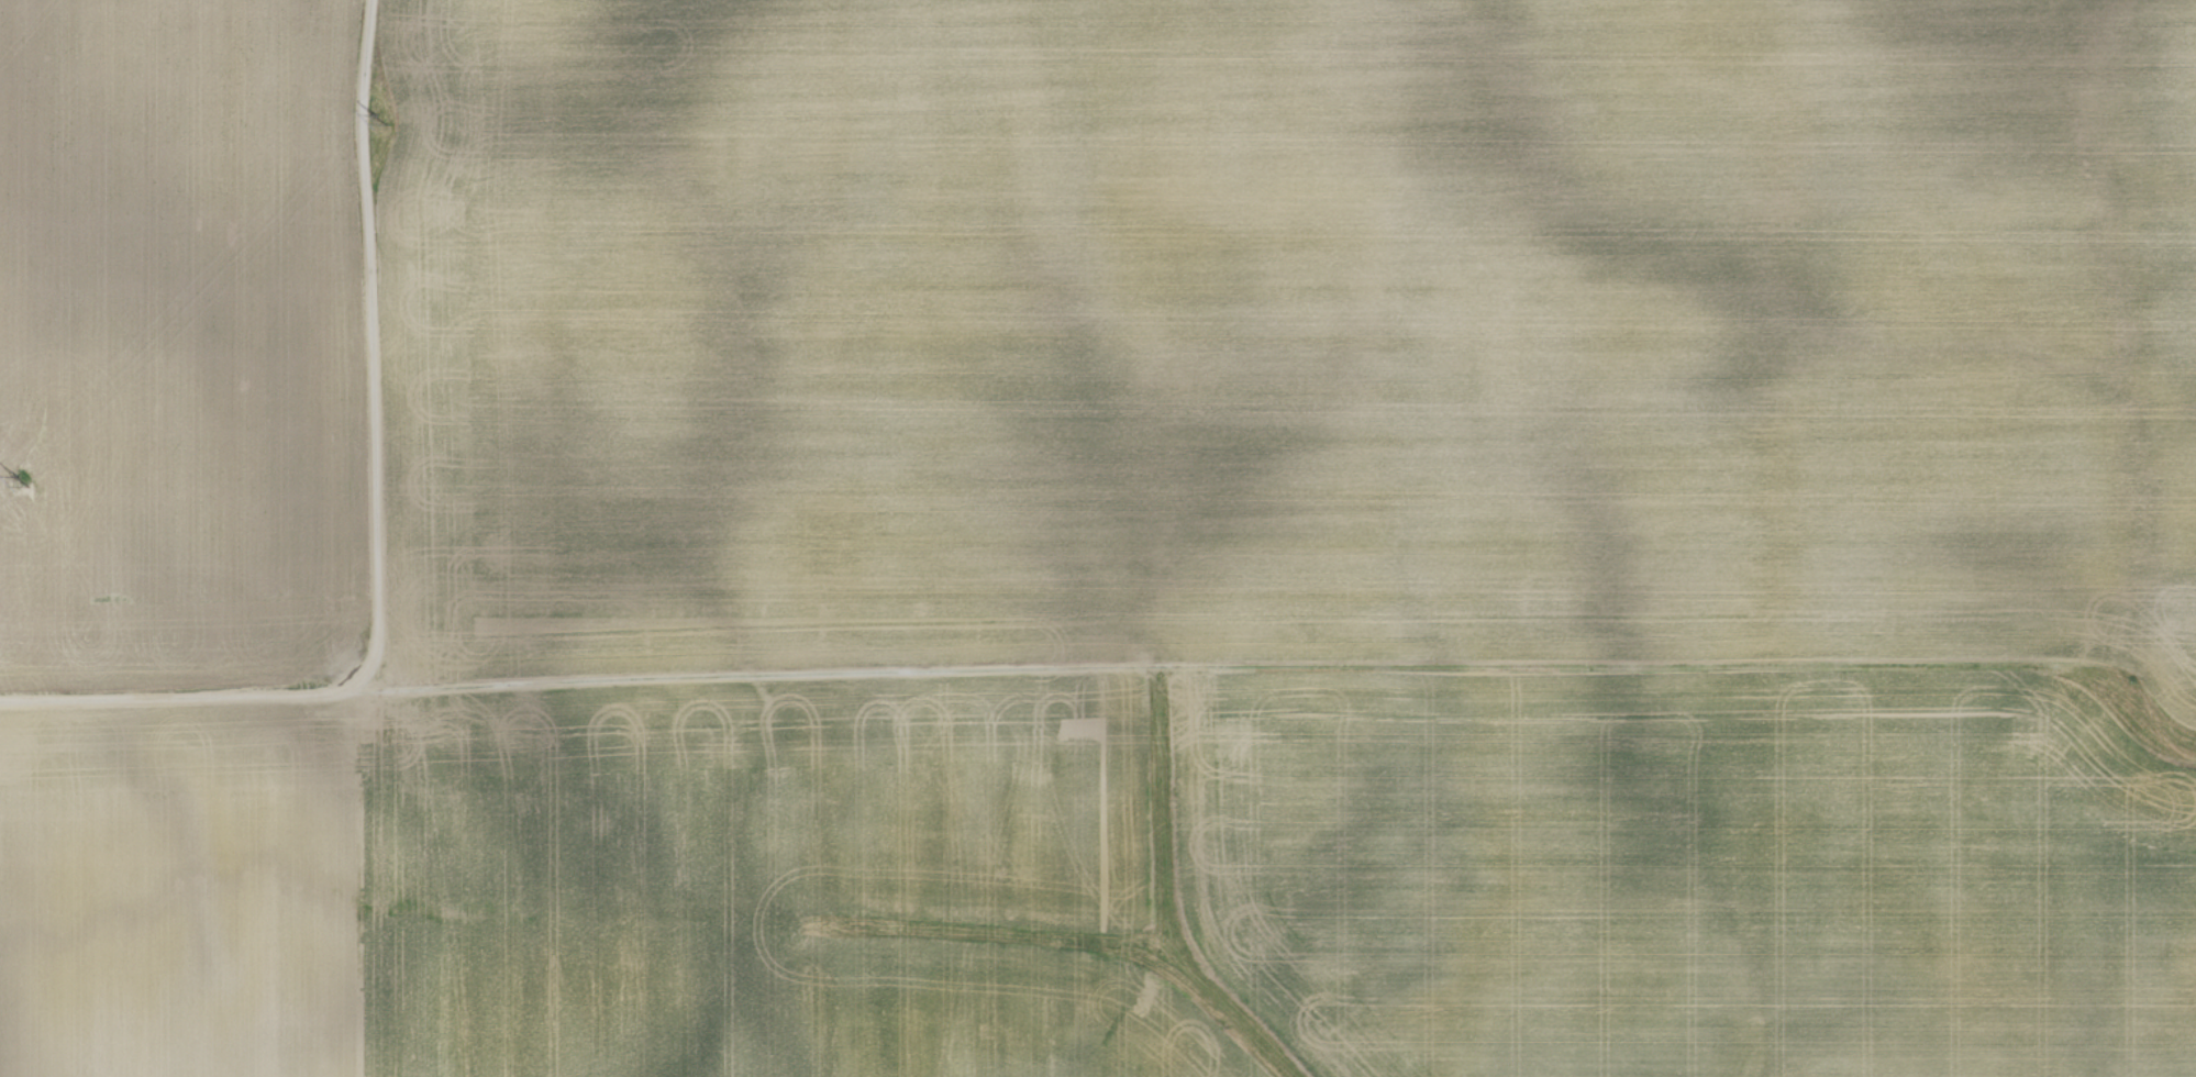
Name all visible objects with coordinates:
power tower: (382, 119)
power tower: (26, 480)
road: (374, 521)

